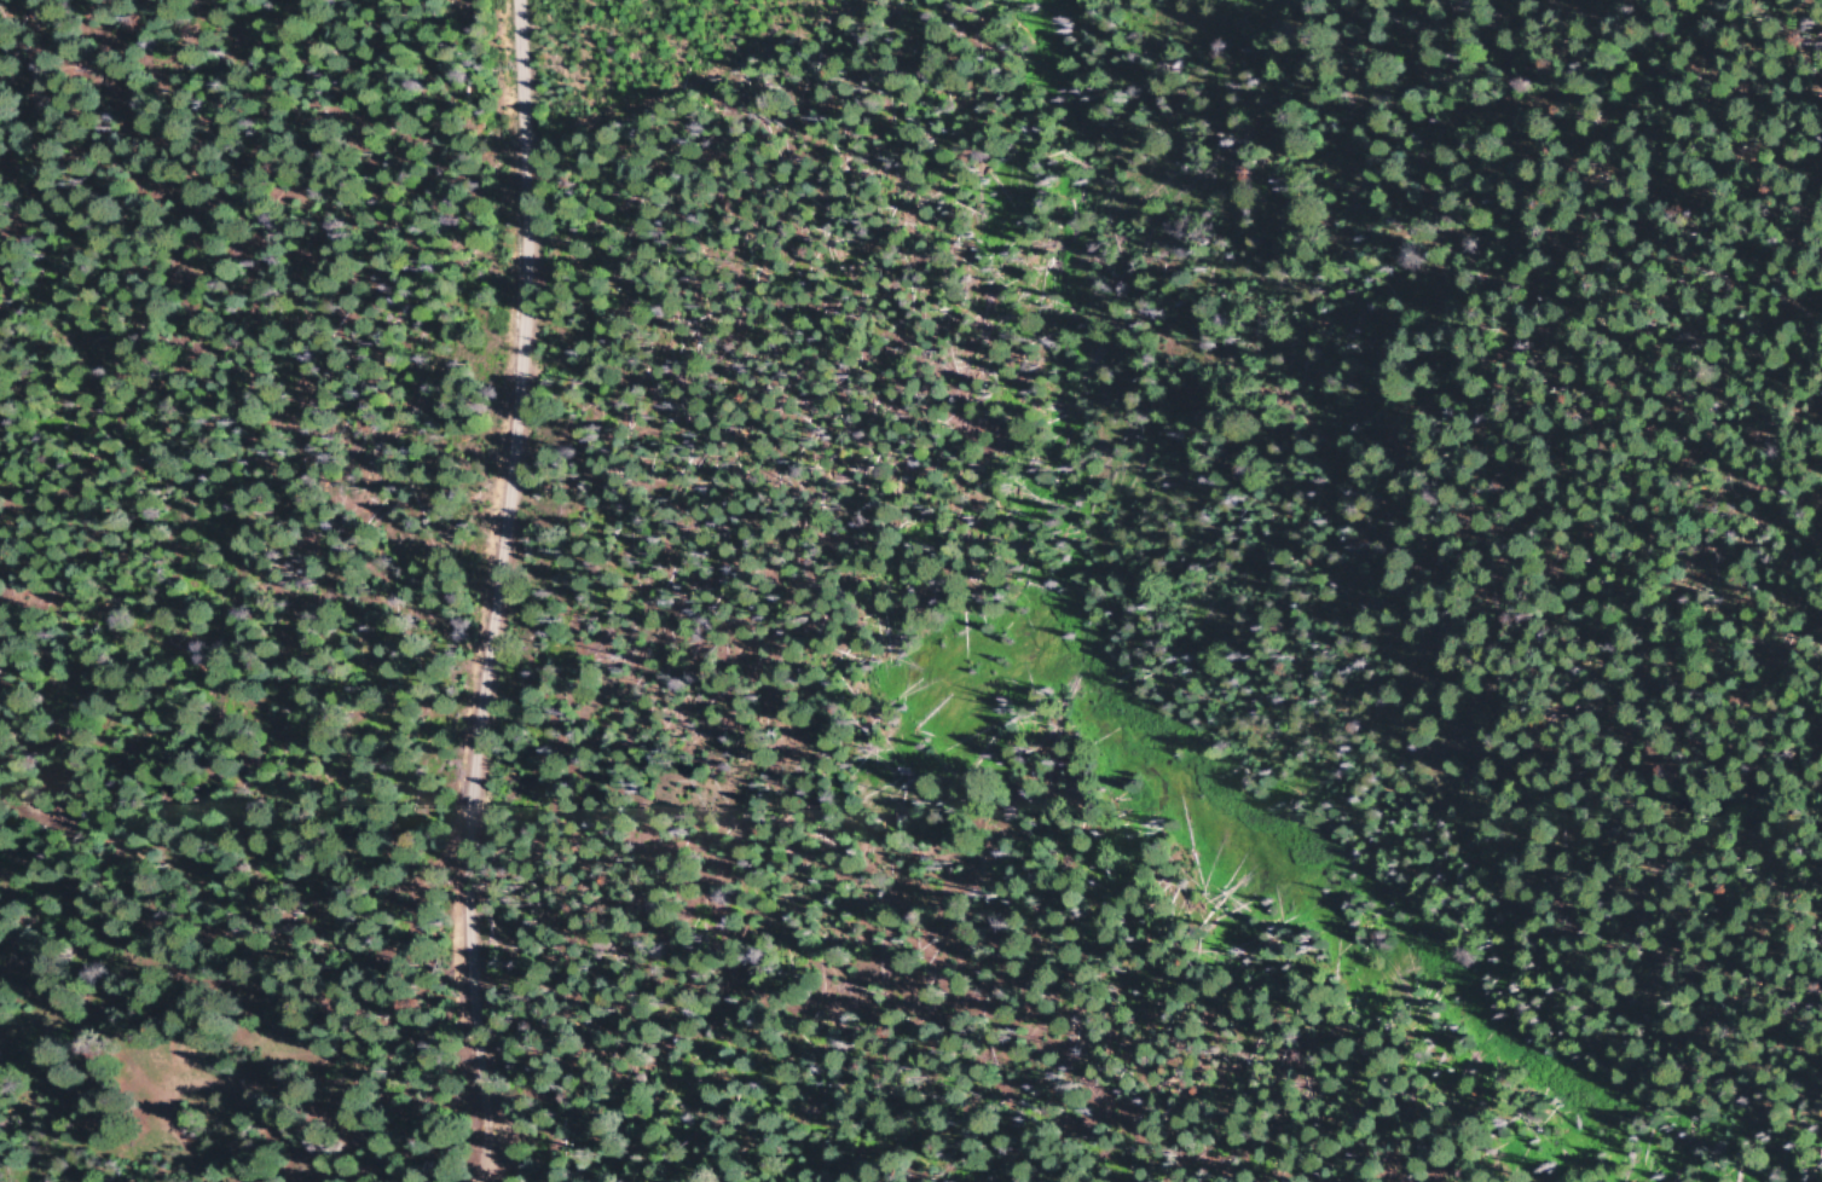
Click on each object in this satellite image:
road: (533, 599)

